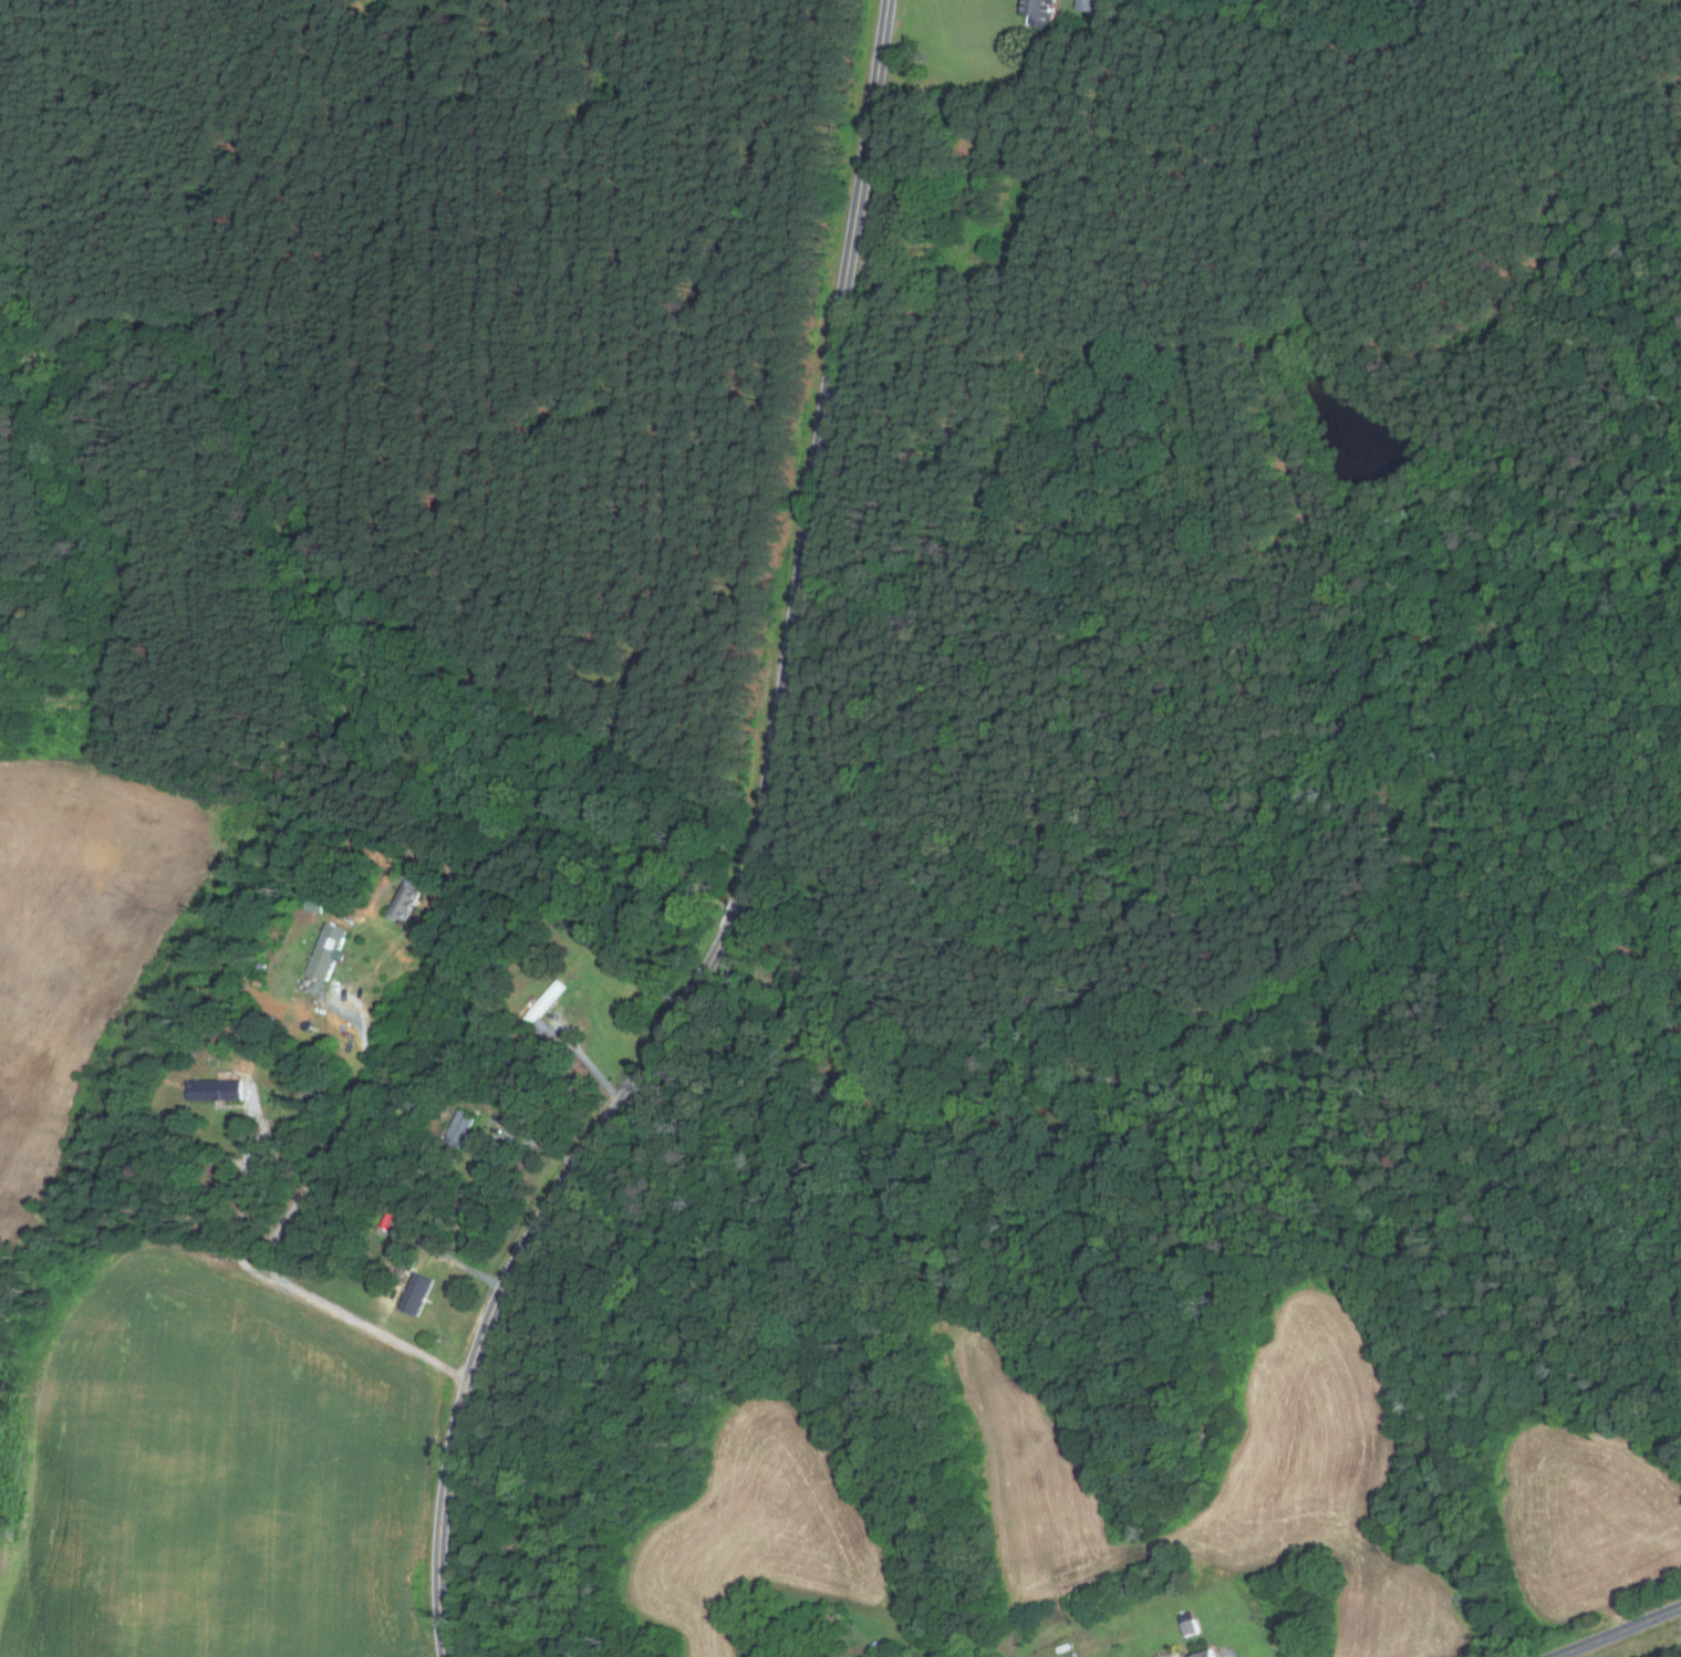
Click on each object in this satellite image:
road: (819, 451)
building: (404, 900)
building: (314, 905)
road: (734, 915)
road: (569, 925)
building: (330, 952)
building: (262, 966)
building: (258, 981)
building: (309, 983)
building: (544, 1001)
building: (238, 1020)
building: (212, 1032)
building: (526, 1042)
road: (588, 1061)
building: (217, 1091)
road: (615, 1107)
building: (459, 1127)
road: (532, 1142)
building: (440, 1160)
road: (247, 1189)
building: (387, 1218)
road: (283, 1223)
building: (411, 1261)
road: (448, 1468)
building: (1187, 1624)
road: (1618, 1632)
building: (879, 1648)
building: (1204, 1654)

